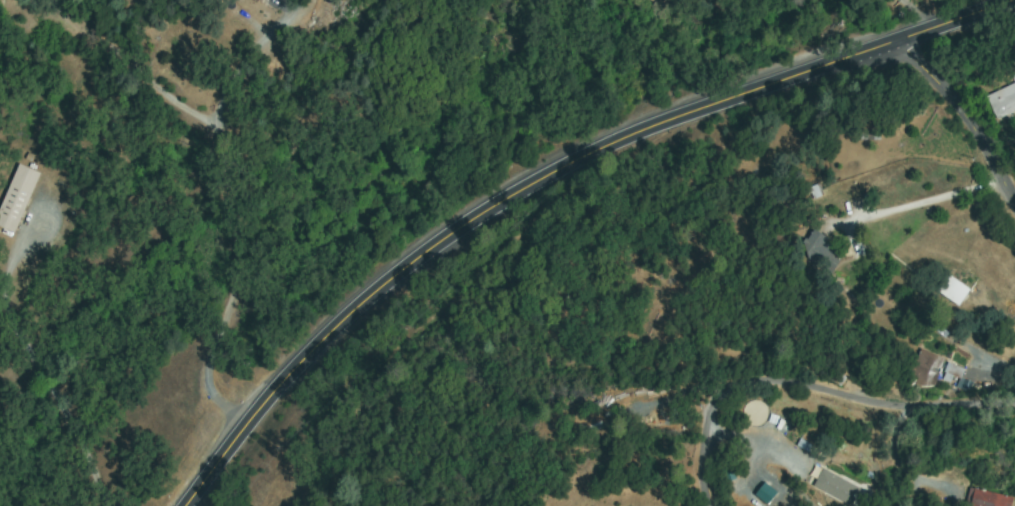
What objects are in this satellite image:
building: (722, 1)
building: (657, 2)
road: (898, 18)
building: (1003, 102)
road: (965, 116)
building: (871, 132)
road: (547, 173)
building: (17, 198)
building: (822, 253)
road: (43, 267)
building: (953, 291)
road: (396, 329)
building: (924, 368)
building: (954, 371)
road: (809, 391)
building: (837, 488)
building: (763, 492)
building: (986, 499)

